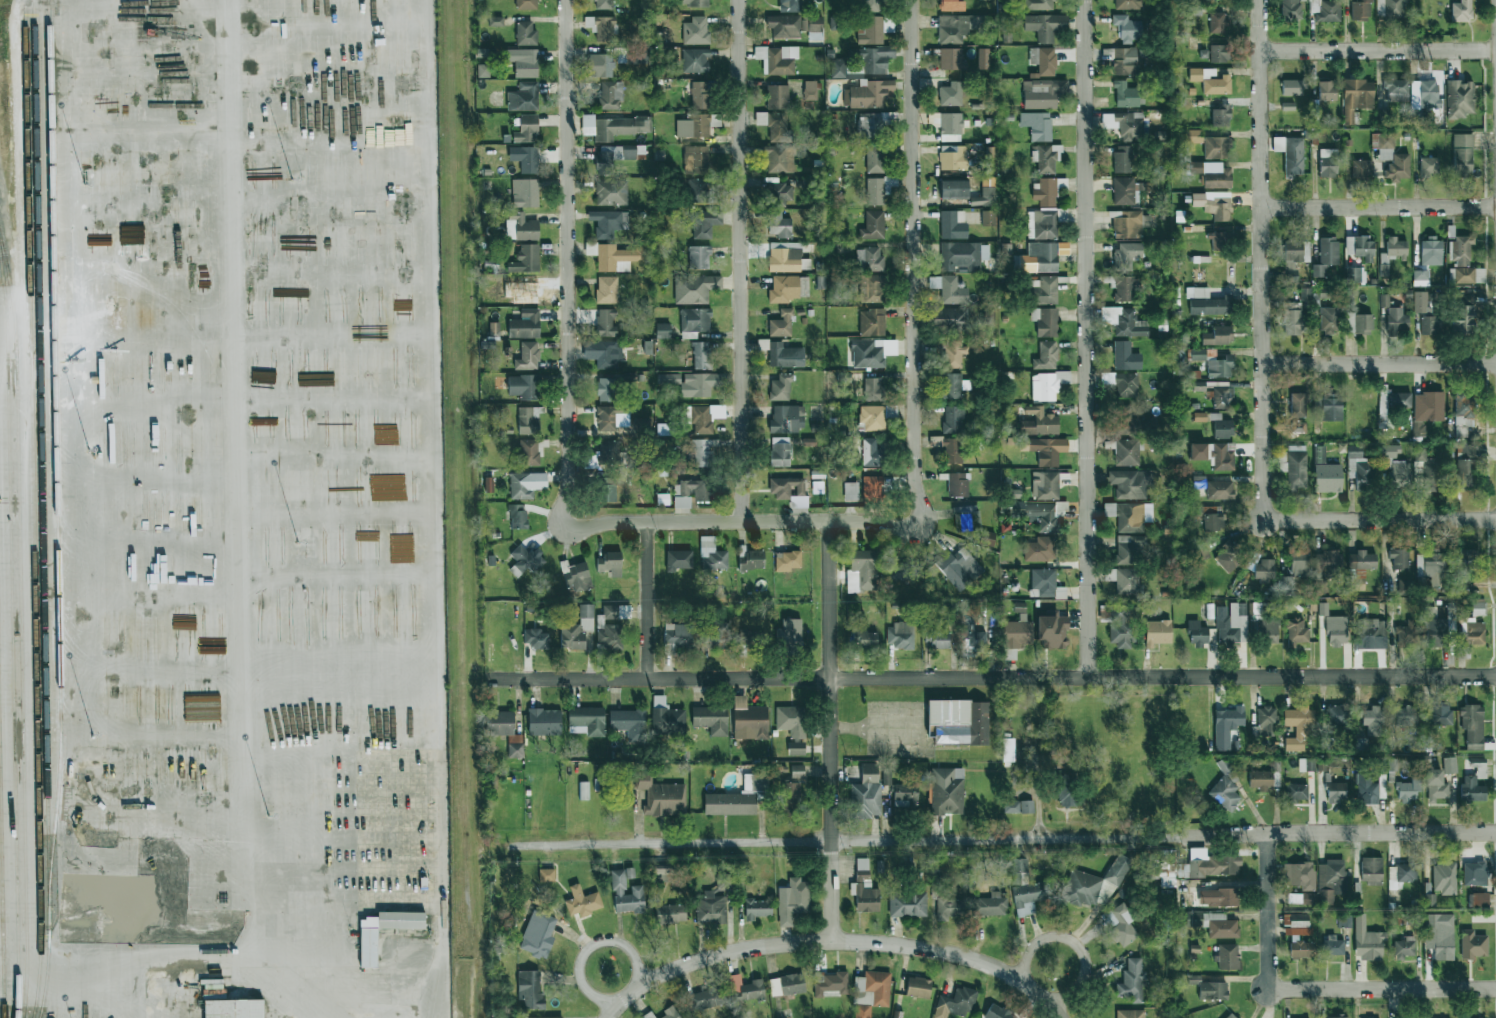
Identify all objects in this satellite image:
building: (694, 3)
building: (526, 4)
building: (603, 4)
building: (1037, 4)
building: (1128, 4)
building: (790, 5)
building: (868, 5)
building: (951, 5)
building: (1390, 8)
building: (1194, 10)
building: (1360, 10)
building: (1461, 10)
building: (1328, 11)
building: (495, 21)
building: (1217, 22)
building: (784, 26)
building: (1045, 26)
building: (602, 27)
building: (812, 27)
building: (958, 27)
building: (1128, 28)
building: (695, 30)
building: (870, 30)
building: (525, 33)
road: (1376, 50)
building: (481, 52)
building: (1219, 53)
building: (951, 58)
building: (983, 58)
building: (695, 60)
building: (781, 60)
building: (1043, 60)
building: (522, 61)
building: (1123, 61)
building: (601, 65)
building: (837, 68)
building: (483, 70)
building: (868, 77)
building: (1210, 80)
building: (1291, 87)
building: (809, 90)
building: (1327, 90)
building: (1396, 91)
building: (1042, 93)
building: (951, 94)
building: (1424, 94)
building: (610, 95)
building: (699, 95)
building: (1125, 95)
building: (523, 97)
building: (777, 97)
building: (1356, 97)
building: (1459, 98)
building: (1287, 106)
building: (1220, 116)
building: (760, 119)
building: (1126, 124)
building: (868, 125)
building: (948, 125)
building: (1037, 125)
building: (693, 126)
building: (613, 127)
building: (777, 127)
building: (524, 128)
building: (1193, 136)
railway: (27, 142)
building: (1216, 147)
building: (1290, 154)
building: (1462, 154)
building: (1391, 156)
building: (779, 158)
building: (953, 158)
building: (1045, 158)
building: (875, 159)
building: (1122, 159)
building: (527, 160)
building: (696, 160)
building: (1328, 162)
building: (1428, 166)
building: (1361, 169)
building: (1211, 174)
building: (878, 189)
building: (954, 189)
building: (700, 190)
building: (1126, 191)
building: (611, 192)
building: (1045, 192)
building: (524, 193)
building: (985, 193)
building: (778, 194)
building: (1213, 204)
road: (1376, 207)
building: (988, 218)
building: (608, 222)
building: (705, 222)
building: (953, 224)
building: (1041, 224)
building: (1129, 224)
building: (778, 225)
building: (873, 225)
building: (521, 227)
building: (1219, 241)
building: (1359, 247)
building: (1395, 248)
building: (1461, 248)
building: (1430, 252)
building: (963, 255)
building: (1126, 255)
building: (1326, 255)
building: (1294, 256)
building: (620, 257)
building: (698, 257)
building: (784, 258)
building: (1037, 258)
building: (525, 259)
road: (741, 260)
building: (869, 260)
road: (1258, 260)
road: (914, 263)
road: (568, 264)
building: (1354, 274)
building: (1465, 275)
building: (1419, 276)
building: (695, 288)
building: (871, 288)
building: (1125, 288)
building: (783, 289)
building: (949, 289)
building: (606, 290)
building: (1045, 291)
building: (1328, 291)
building: (1197, 292)
building: (1305, 294)
building: (1384, 300)
building: (1420, 302)
road: (244, 306)
building: (1211, 306)
road: (33, 309)
building: (1463, 314)
building: (989, 315)
building: (1328, 319)
building: (950, 320)
building: (1045, 321)
building: (1124, 321)
building: (1396, 321)
building: (694, 322)
building: (872, 322)
building: (1292, 322)
building: (605, 323)
building: (524, 324)
building: (781, 324)
building: (1363, 324)
building: (1430, 325)
building: (494, 328)
building: (662, 331)
building: (1217, 336)
road: (1084, 338)
building: (872, 352)
building: (602, 353)
building: (953, 353)
building: (1198, 354)
building: (701, 355)
building: (785, 355)
building: (1046, 355)
building: (527, 356)
building: (1125, 356)
road: (1377, 363)
building: (1219, 367)
building: (845, 377)
road: (47, 382)
building: (693, 383)
building: (953, 385)
building: (1047, 385)
building: (1126, 385)
building: (1199, 385)
building: (523, 386)
building: (780, 388)
building: (605, 389)
building: (872, 389)
building: (1223, 397)
building: (1297, 404)
building: (1391, 405)
building: (1331, 406)
building: (1427, 409)
building: (1463, 410)
building: (890, 411)
building: (611, 417)
building: (703, 417)
building: (872, 417)
building: (787, 418)
building: (953, 419)
building: (528, 420)
building: (1128, 421)
building: (1038, 422)
building: (1222, 427)
building: (1045, 449)
building: (952, 450)
building: (780, 451)
building: (1127, 451)
building: (1198, 451)
railway: (41, 452)
building: (531, 452)
building: (703, 452)
building: (608, 453)
building: (872, 453)
building: (1319, 454)
building: (1222, 457)
building: (1282, 461)
building: (1464, 465)
building: (1296, 467)
building: (1395, 467)
building: (1429, 469)
building: (1360, 471)
building: (1330, 480)
building: (1199, 481)
road: (68, 482)
building: (1130, 483)
building: (488, 484)
building: (526, 484)
building: (958, 484)
building: (1045, 485)
building: (786, 487)
building: (872, 487)
building: (1219, 490)
building: (850, 491)
building: (691, 492)
building: (608, 493)
building: (798, 501)
building: (1012, 506)
railway: (56, 509)
road: (426, 509)
building: (1044, 515)
building: (1130, 515)
building: (517, 517)
building: (1212, 518)
building: (966, 519)
road: (1378, 520)
road: (740, 521)
road: (236, 534)
building: (986, 538)
building: (1040, 549)
building: (1128, 549)
building: (711, 554)
building: (1230, 555)
building: (1399, 558)
building: (679, 559)
building: (751, 559)
building: (525, 560)
building: (787, 560)
building: (1465, 560)
building: (610, 563)
building: (1298, 563)
building: (1327, 564)
building: (1431, 567)
building: (959, 568)
building: (1359, 568)
building: (1264, 570)
building: (861, 571)
building: (903, 572)
building: (577, 577)
building: (1125, 580)
building: (1046, 583)
road: (646, 600)
building: (1019, 606)
building: (949, 608)
building: (1256, 608)
building: (1478, 608)
building: (1322, 609)
building: (616, 612)
building: (1232, 622)
railway: (20, 627)
building: (1122, 627)
building: (577, 629)
building: (791, 630)
building: (1269, 630)
building: (1296, 630)
building: (1435, 630)
building: (971, 631)
building: (1052, 631)
building: (1336, 631)
building: (1157, 632)
building: (147, 633)
building: (1017, 633)
building: (1197, 633)
building: (1406, 633)
building: (1370, 634)
building: (1470, 634)
building: (715, 635)
building: (900, 635)
railway: (12, 636)
building: (609, 636)
building: (677, 637)
road: (28, 638)
building: (536, 638)
building: (864, 638)
building: (937, 638)
building: (750, 639)
railway: (35, 651)
building: (1010, 654)
road: (990, 677)
building: (146, 711)
building: (1440, 713)
building: (1337, 715)
building: (1405, 715)
building: (666, 717)
building: (1234, 718)
building: (1371, 718)
building: (544, 719)
building: (711, 719)
building: (587, 720)
building: (749, 720)
building: (791, 721)
building: (959, 721)
building: (1266, 721)
building: (501, 723)
building: (629, 723)
road: (6, 724)
building: (1472, 725)
building: (1299, 726)
road: (876, 727)
road: (829, 730)
building: (796, 748)
building: (1392, 764)
building: (1305, 765)
building: (1449, 765)
building: (797, 771)
building: (886, 776)
building: (1264, 777)
building: (1473, 780)
building: (1435, 786)
building: (1226, 787)
building: (1068, 790)
building: (1368, 790)
building: (1408, 790)
building: (947, 791)
building: (1335, 791)
building: (1296, 792)
building: (866, 793)
building: (904, 795)
building: (661, 796)
building: (738, 798)
building: (790, 799)
building: (1018, 806)
road: (336, 831)
road: (1002, 836)
building: (1371, 869)
building: (1118, 870)
building: (663, 872)
building: (1400, 873)
building: (1474, 873)
building: (546, 875)
building: (1300, 875)
building: (1444, 877)
building: (724, 880)
building: (1330, 880)
building: (864, 888)
building: (1081, 888)
building: (1025, 889)
building: (618, 890)
railway: (2, 892)
building: (1218, 897)
building: (1301, 898)
building: (792, 900)
building: (1479, 900)
building: (582, 901)
building: (907, 903)
building: (989, 905)
building: (950, 907)
building: (710, 908)
building: (757, 909)
road: (1265, 911)
building: (670, 913)
building: (1344, 920)
building: (1121, 924)
building: (1214, 924)
road: (127, 925)
building: (1298, 925)
building: (538, 935)
building: (1439, 935)
road: (833, 939)
building: (1366, 940)
road: (1072, 942)
building: (1473, 945)
building: (1332, 946)
road: (588, 947)
building: (368, 948)
building: (1301, 948)
building: (1404, 948)
building: (1228, 956)
building: (1132, 981)
building: (829, 983)
building: (786, 985)
building: (918, 987)
building: (530, 988)
building: (745, 988)
road: (1380, 989)
building: (1212, 990)
building: (870, 992)
building: (706, 999)
building: (955, 1003)
road: (469, 1007)
building: (233, 1008)
building: (998, 1012)
road: (1058, 1012)
road: (609, 1013)
building: (1130, 1013)
building: (664, 1014)
road: (336, 1016)
building: (1230, 1016)
building: (545, 1017)

